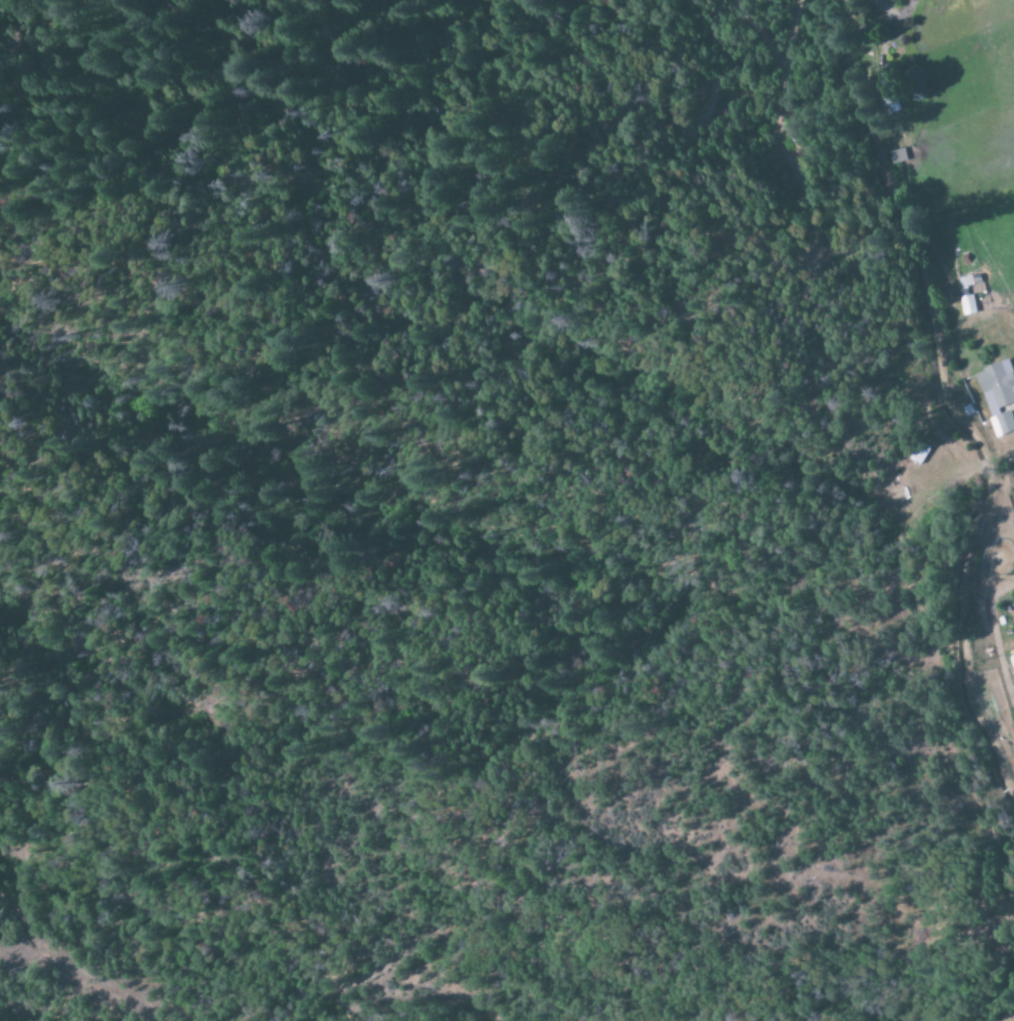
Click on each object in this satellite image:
building: (894, 157)
building: (965, 285)
building: (968, 305)
building: (998, 396)
building: (1012, 659)

